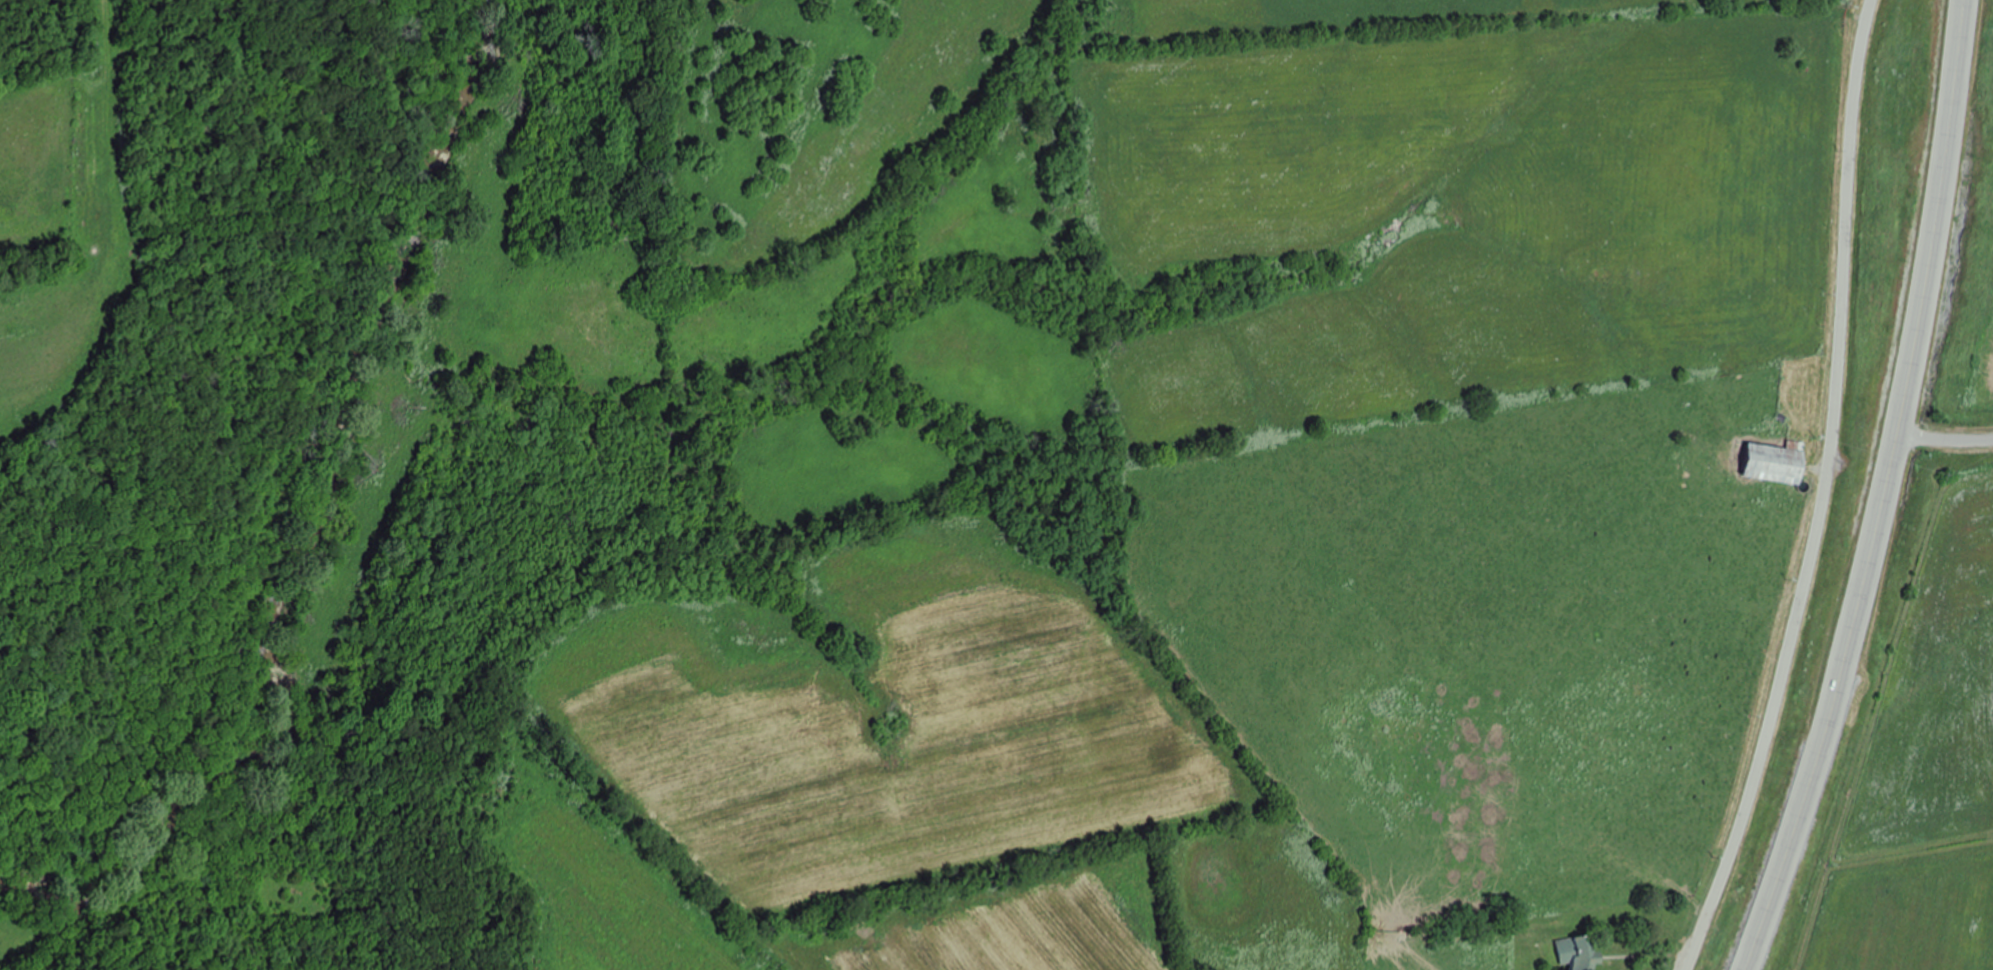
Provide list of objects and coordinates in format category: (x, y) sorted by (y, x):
road: (1945, 440)
building: (1778, 463)
road: (1886, 492)
road: (1822, 493)
building: (1583, 953)

